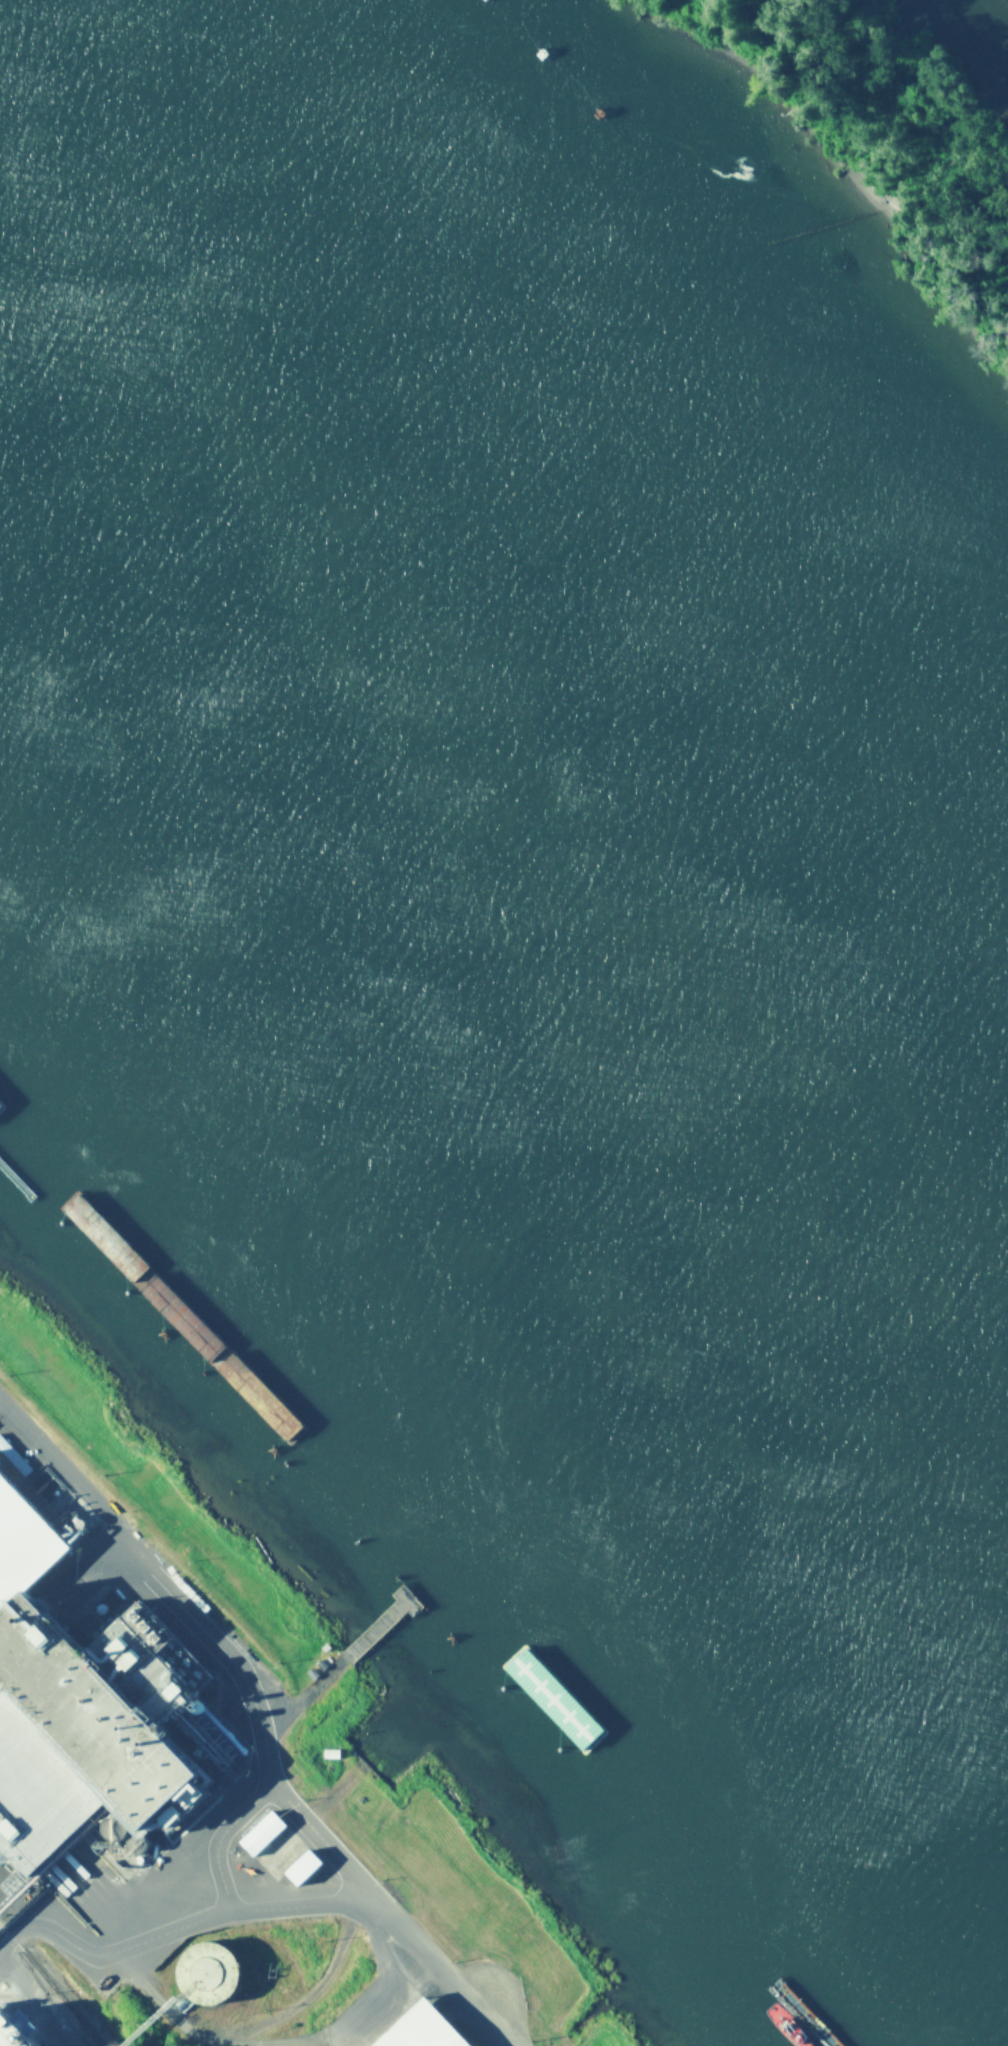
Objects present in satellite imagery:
river: (504, 879)
building: (15, 1503)
building: (69, 1765)
building: (264, 1834)
building: (305, 1869)
road: (1, 1936)
building: (216, 1974)
railway: (46, 1988)
building: (430, 2029)

